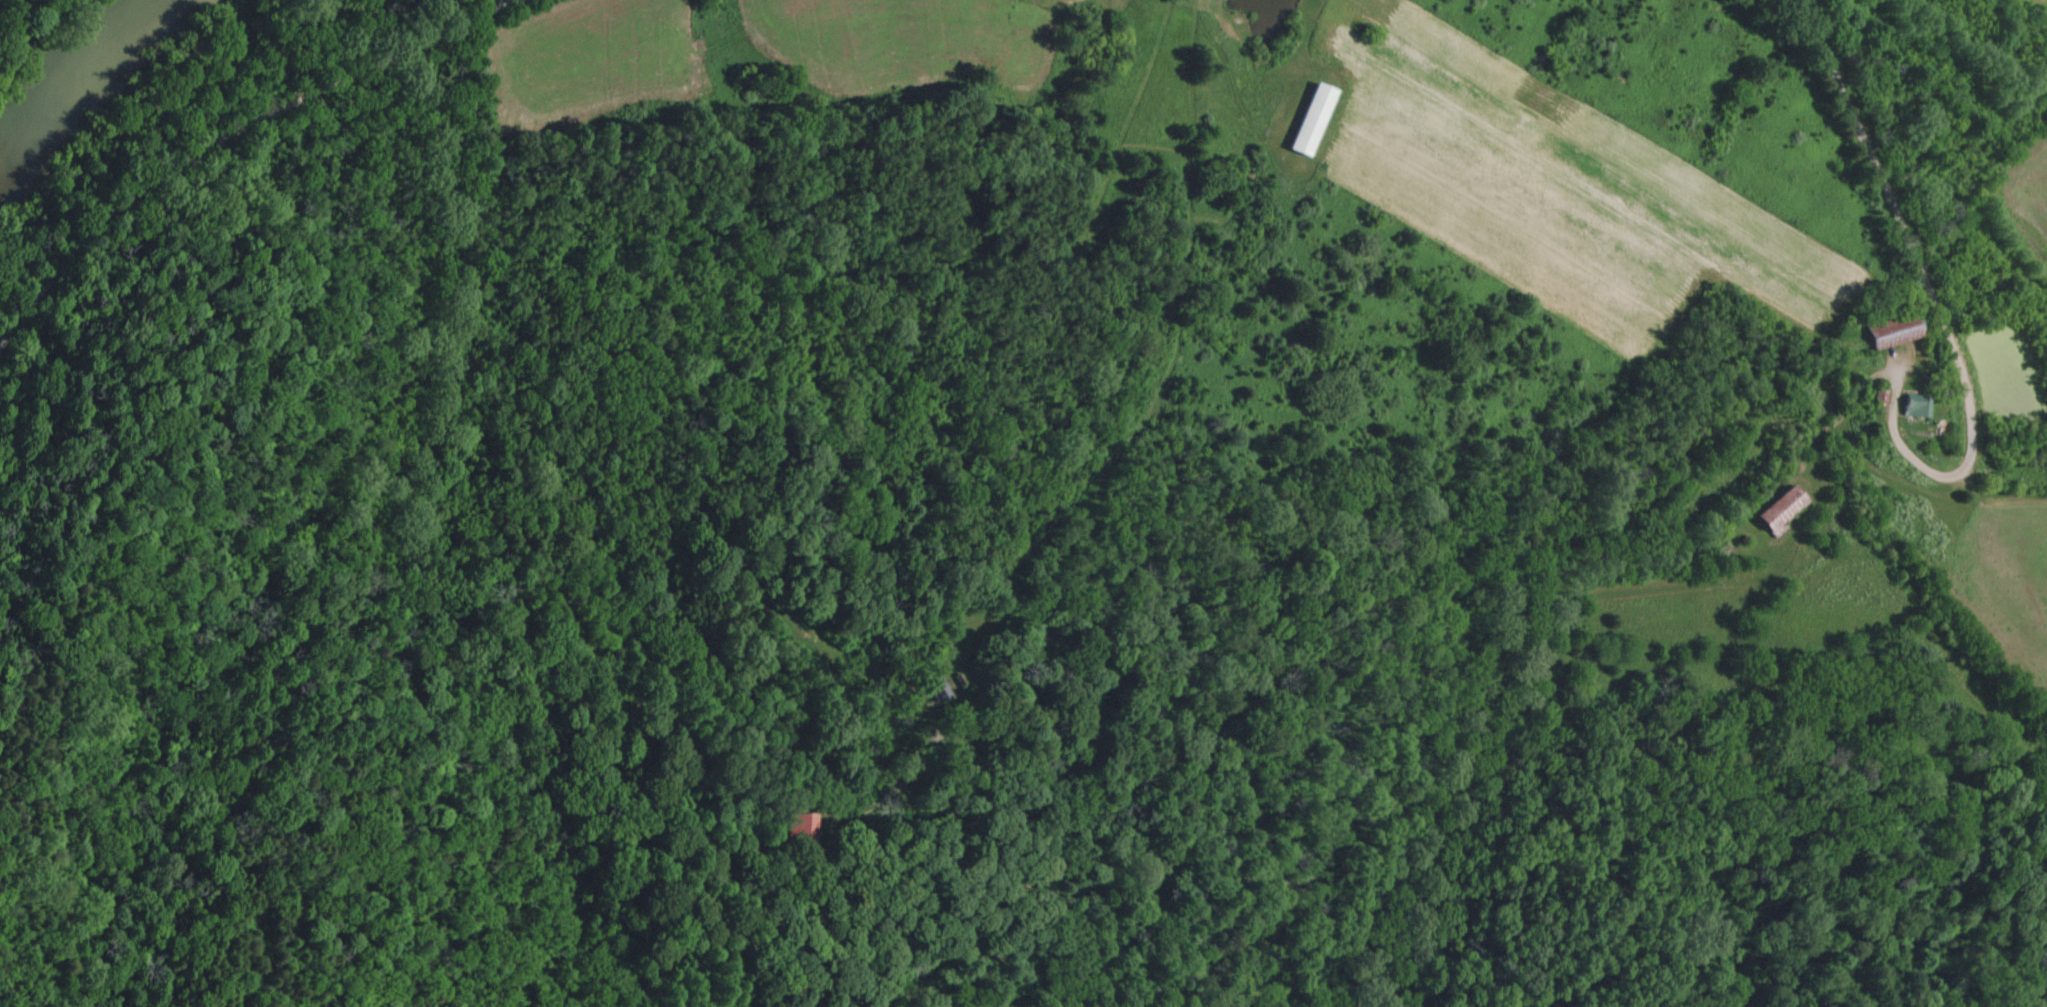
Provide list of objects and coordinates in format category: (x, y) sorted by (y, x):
crop: (5, 5)
river: (85, 88)
building: (1307, 121)
road: (236, 139)
crop: (1516, 246)
road: (1940, 297)
building: (1912, 407)
building: (1775, 510)
building: (932, 688)
building: (800, 828)

